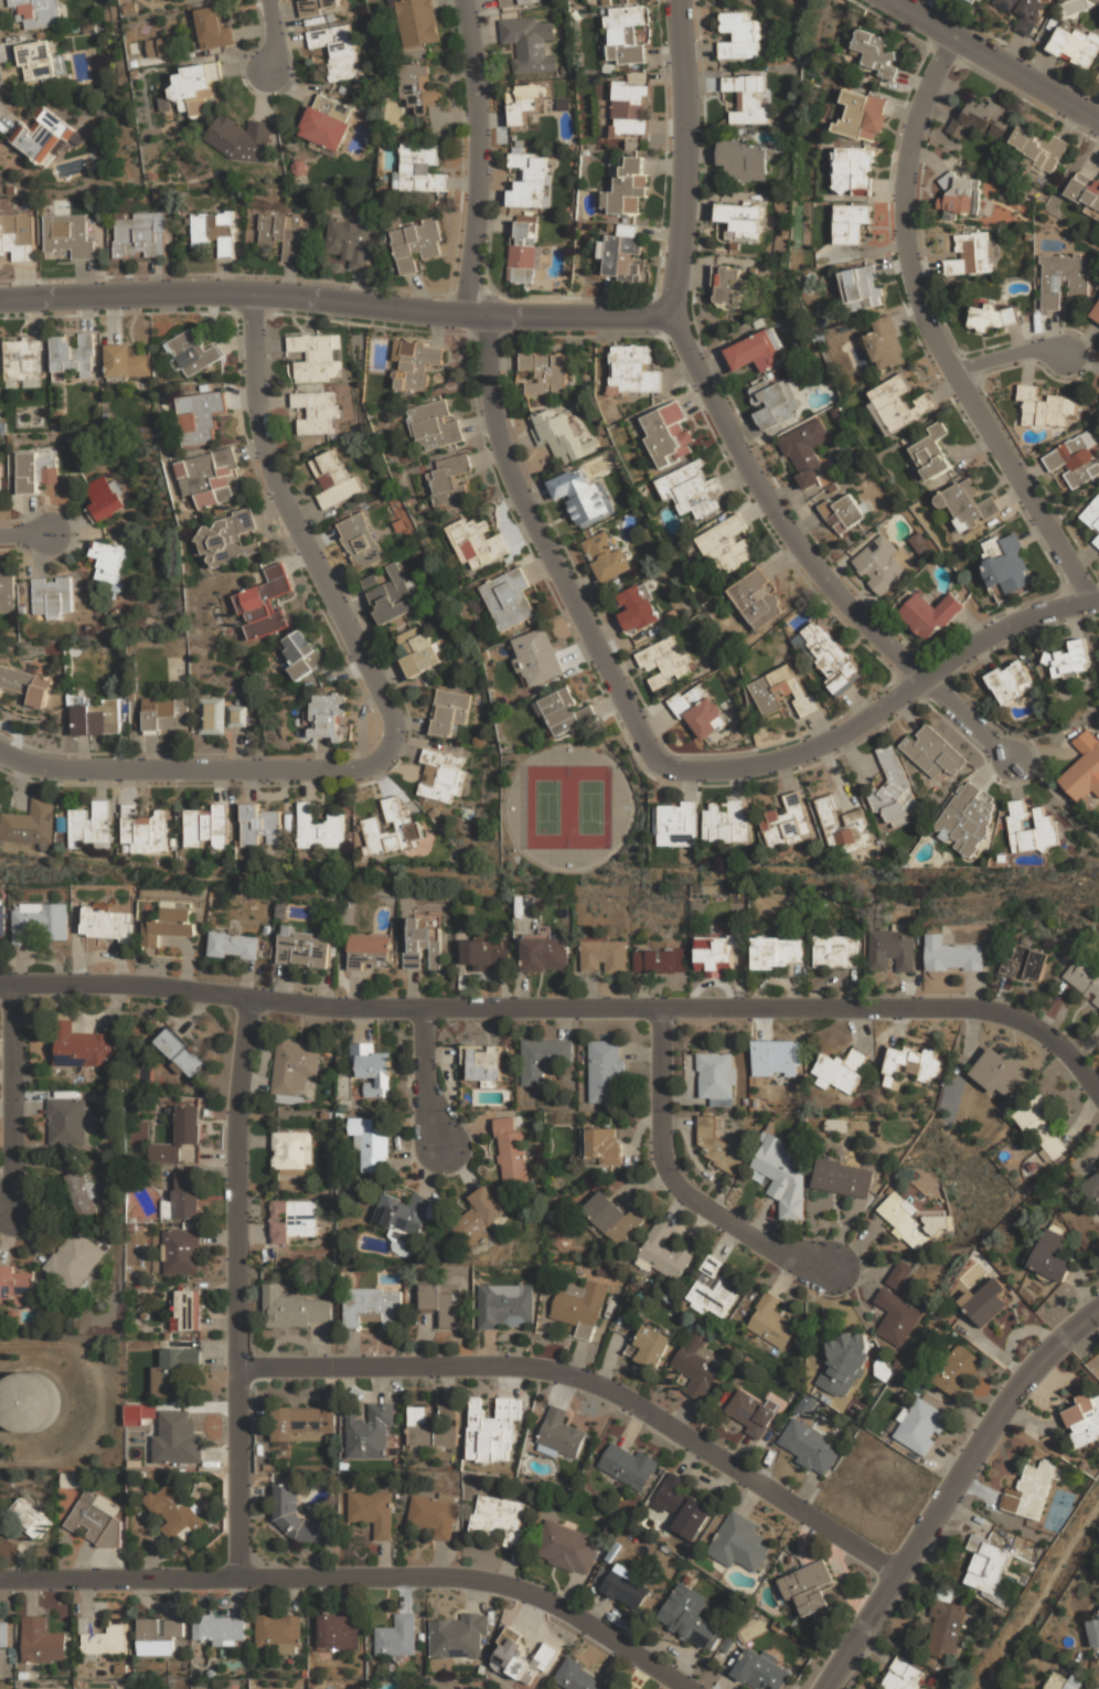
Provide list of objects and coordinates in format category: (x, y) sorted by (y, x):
building: (194, 0)
building: (975, 0)
building: (515, 1)
building: (317, 6)
building: (36, 12)
building: (1025, 12)
building: (416, 23)
building: (213, 28)
building: (626, 34)
road: (275, 35)
building: (739, 36)
building: (530, 42)
building: (1076, 43)
building: (159, 47)
building: (337, 49)
building: (875, 52)
road: (994, 59)
building: (39, 60)
building: (418, 86)
building: (194, 88)
building: (748, 96)
building: (524, 100)
building: (630, 108)
building: (863, 114)
building: (980, 118)
building: (324, 129)
building: (42, 135)
building: (241, 138)
building: (1039, 148)
road: (478, 156)
road: (687, 157)
building: (744, 158)
building: (420, 168)
building: (853, 169)
building: (529, 179)
building: (628, 185)
building: (1084, 191)
building: (961, 194)
building: (741, 220)
building: (852, 222)
building: (213, 230)
building: (280, 233)
building: (18, 234)
building: (68, 234)
building: (140, 235)
building: (350, 242)
building: (415, 244)
building: (524, 252)
building: (970, 253)
building: (623, 257)
building: (1063, 279)
building: (726, 281)
building: (862, 286)
road: (337, 298)
building: (1097, 312)
building: (992, 316)
road: (933, 332)
building: (885, 342)
building: (193, 351)
building: (757, 351)
road: (1007, 354)
building: (72, 355)
building: (317, 355)
building: (23, 360)
building: (127, 361)
building: (413, 364)
building: (632, 370)
building: (545, 371)
building: (775, 402)
building: (900, 402)
building: (1045, 405)
building: (316, 411)
building: (201, 417)
building: (435, 425)
building: (669, 433)
building: (561, 435)
building: (933, 450)
building: (805, 452)
building: (1076, 458)
building: (36, 470)
building: (207, 477)
building: (333, 480)
building: (449, 482)
building: (695, 488)
building: (581, 495)
building: (102, 497)
building: (968, 503)
building: (844, 512)
building: (1092, 513)
building: (403, 519)
road: (297, 525)
road: (33, 532)
building: (1097, 539)
building: (228, 540)
building: (360, 541)
building: (920, 542)
building: (477, 543)
building: (728, 544)
road: (547, 548)
building: (608, 554)
road: (811, 559)
building: (107, 560)
building: (881, 563)
building: (1006, 566)
building: (369, 581)
building: (7, 591)
building: (392, 596)
building: (52, 597)
building: (509, 599)
building: (756, 599)
building: (266, 603)
building: (637, 607)
building: (931, 614)
building: (418, 651)
building: (302, 652)
building: (829, 656)
building: (536, 657)
building: (1069, 660)
building: (664, 661)
building: (1011, 682)
building: (25, 684)
building: (782, 690)
road: (886, 704)
building: (449, 711)
building: (700, 711)
building: (166, 713)
building: (563, 714)
building: (212, 715)
building: (236, 715)
building: (327, 716)
building: (96, 719)
building: (931, 752)
road: (198, 767)
building: (1082, 768)
building: (441, 775)
building: (893, 790)
road: (1058, 794)
park: (548, 805)
park: (591, 805)
park: (574, 814)
building: (967, 818)
building: (725, 822)
building: (785, 822)
building: (30, 824)
building: (676, 825)
building: (259, 826)
building: (90, 827)
building: (206, 827)
building: (407, 827)
building: (843, 827)
building: (318, 828)
building: (1031, 828)
building: (143, 830)
building: (1, 920)
building: (39, 923)
building: (106, 924)
building: (168, 925)
building: (234, 945)
building: (423, 945)
building: (303, 948)
building: (892, 949)
building: (369, 950)
building: (545, 952)
building: (834, 952)
building: (775, 953)
building: (715, 954)
building: (951, 955)
building: (484, 956)
building: (605, 956)
building: (659, 960)
building: (1026, 963)
building: (1084, 978)
road: (565, 1006)
building: (82, 1047)
building: (180, 1053)
building: (776, 1058)
building: (543, 1059)
building: (482, 1061)
building: (911, 1063)
building: (294, 1066)
building: (373, 1067)
building: (842, 1069)
building: (606, 1072)
road: (423, 1074)
building: (717, 1074)
building: (1002, 1074)
road: (13, 1106)
building: (66, 1122)
building: (1044, 1129)
building: (136, 1135)
building: (179, 1136)
building: (372, 1141)
building: (604, 1146)
building: (717, 1148)
building: (292, 1150)
building: (512, 1150)
building: (777, 1166)
building: (844, 1180)
road: (675, 1181)
building: (1093, 1189)
building: (81, 1194)
building: (186, 1196)
building: (168, 1209)
building: (403, 1213)
building: (481, 1215)
building: (615, 1218)
building: (910, 1218)
building: (295, 1220)
building: (182, 1252)
building: (664, 1254)
building: (1050, 1255)
building: (74, 1261)
building: (900, 1276)
building: (15, 1284)
road: (238, 1285)
building: (715, 1290)
building: (438, 1300)
building: (986, 1302)
building: (502, 1306)
building: (374, 1307)
building: (580, 1307)
building: (186, 1310)
building: (295, 1310)
building: (896, 1317)
building: (772, 1322)
building: (650, 1346)
building: (844, 1363)
building: (698, 1368)
building: (173, 1369)
building: (958, 1370)
road: (595, 1382)
building: (26, 1402)
storage tank: (26, 1402)
building: (750, 1413)
building: (1084, 1419)
building: (298, 1424)
building: (431, 1425)
building: (921, 1425)
building: (492, 1428)
building: (369, 1432)
building: (563, 1434)
building: (177, 1438)
building: (810, 1446)
building: (628, 1466)
building: (71, 1479)
road: (950, 1489)
building: (1033, 1489)
building: (286, 1501)
building: (683, 1507)
building: (173, 1511)
building: (373, 1511)
building: (434, 1512)
building: (29, 1518)
building: (499, 1518)
building: (97, 1519)
building: (739, 1543)
building: (567, 1548)
building: (989, 1566)
road: (360, 1576)
building: (808, 1586)
building: (627, 1587)
building: (689, 1616)
building: (216, 1627)
building: (947, 1628)
building: (277, 1630)
building: (338, 1630)
building: (1093, 1630)
building: (2, 1634)
building: (457, 1635)
building: (157, 1636)
building: (396, 1636)
building: (102, 1639)
building: (40, 1640)
building: (521, 1657)
building: (762, 1670)
building: (904, 1675)
building: (576, 1676)
building: (1065, 1681)
building: (620, 1688)

